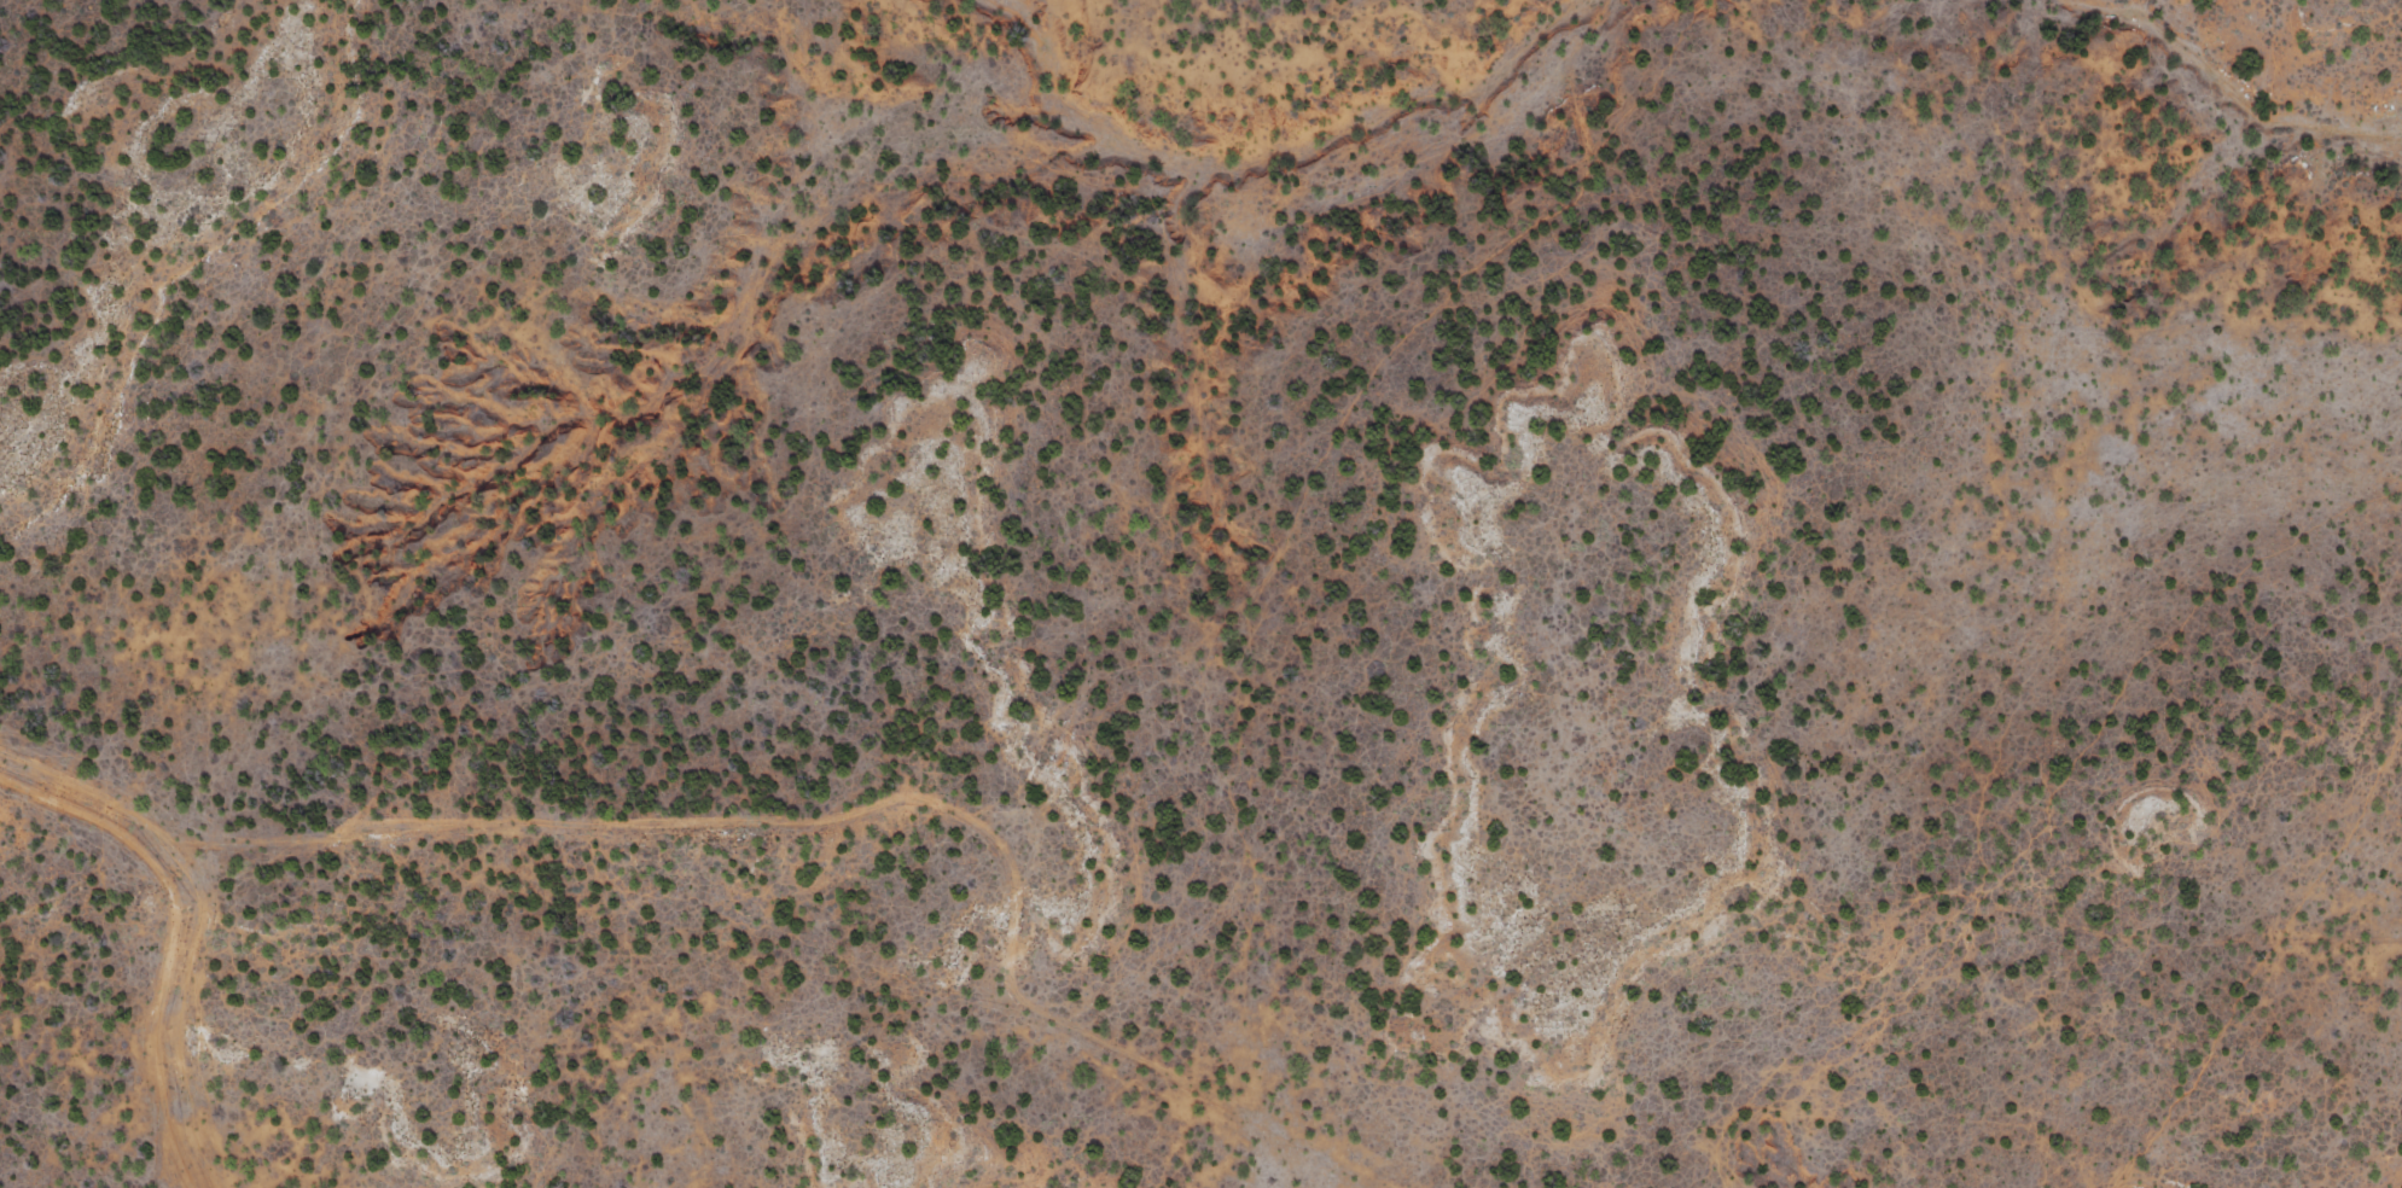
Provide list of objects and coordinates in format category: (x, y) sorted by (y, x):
road: (758, 905)
road: (204, 1012)

